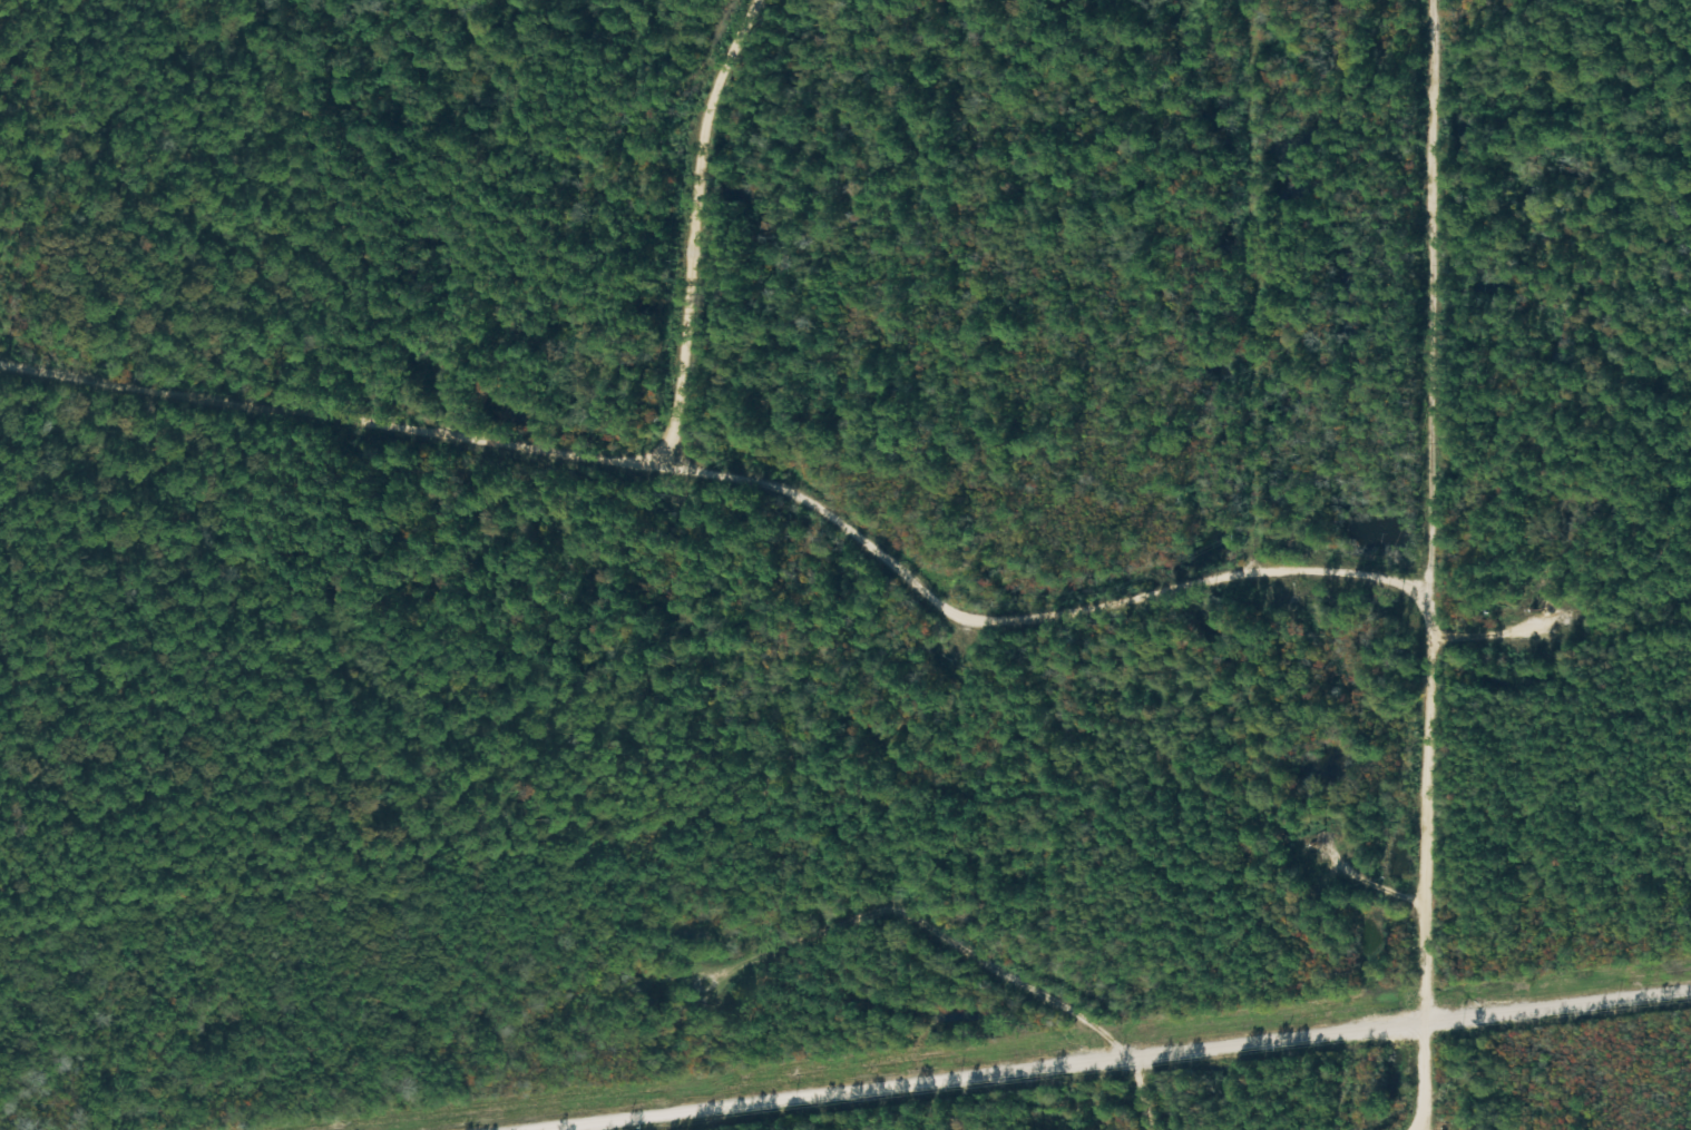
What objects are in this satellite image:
road: (31, 195)
road: (674, 214)
road: (900, 561)
road: (1434, 564)
road: (1339, 568)
road: (1492, 635)
road: (956, 931)

